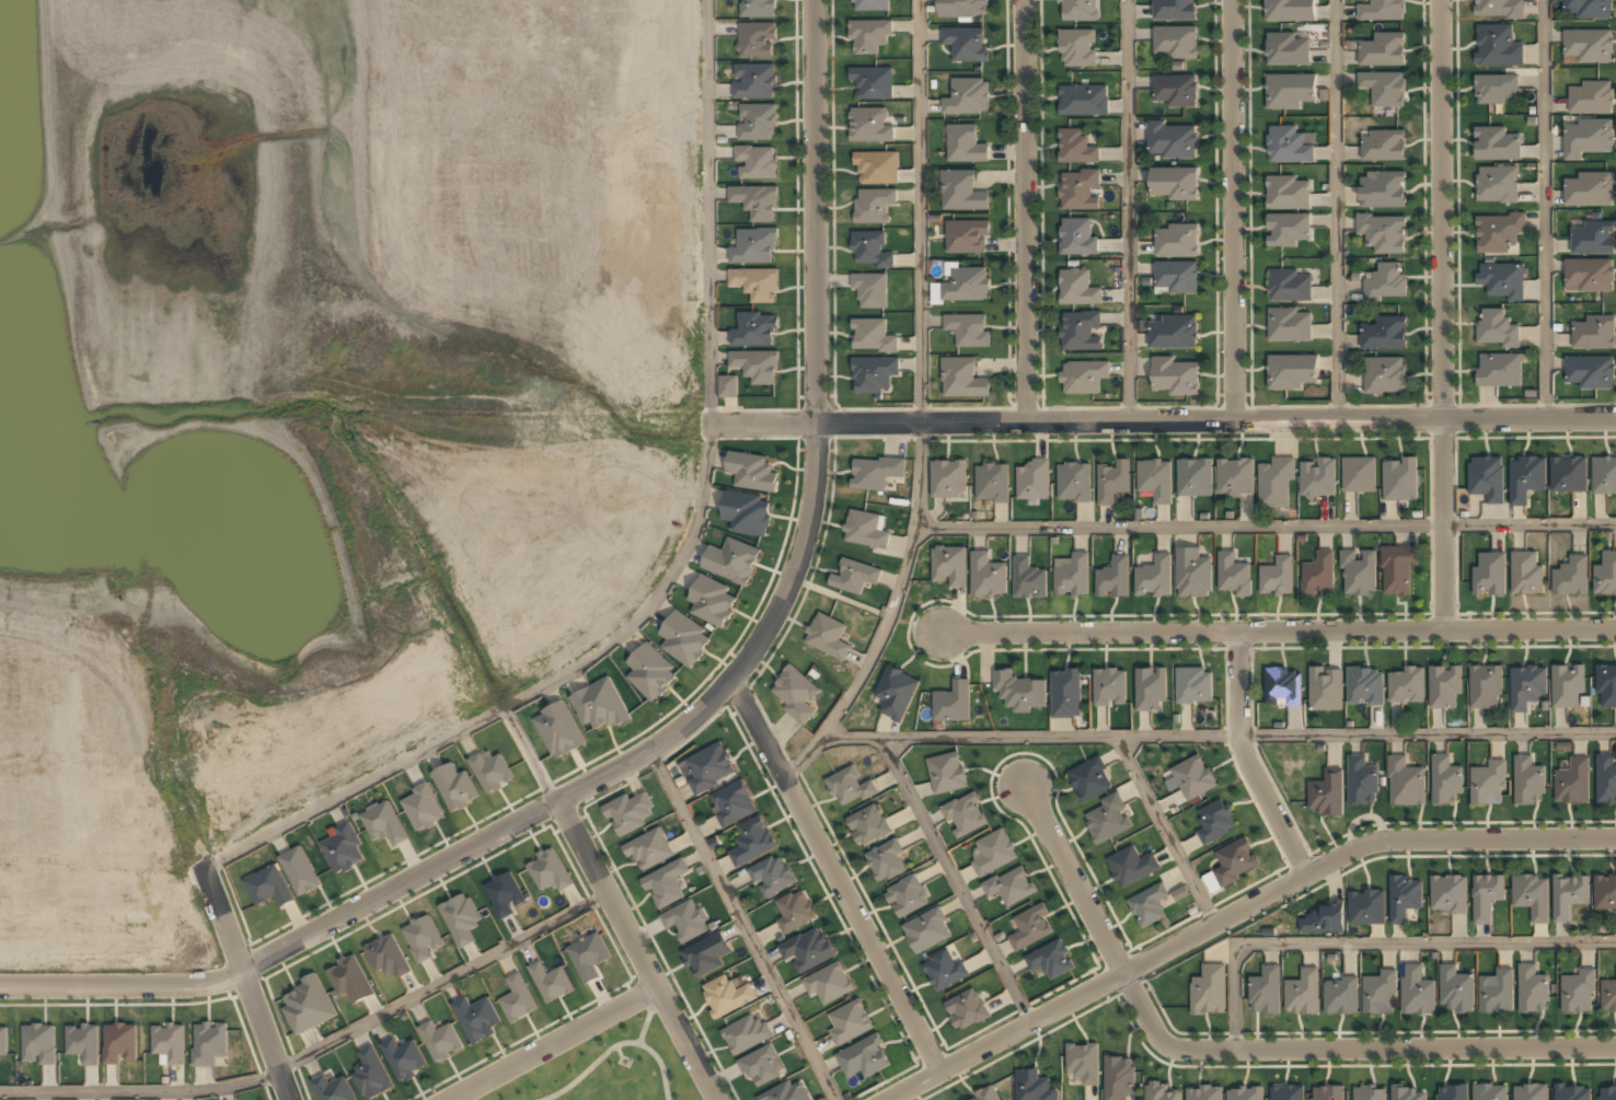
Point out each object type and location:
building: (872, 5)
building: (758, 8)
building: (961, 9)
building: (1174, 9)
building: (1499, 9)
building: (1586, 9)
building: (1077, 10)
building: (1290, 10)
building: (1381, 10)
building: (868, 36)
building: (755, 40)
building: (1175, 42)
building: (965, 44)
building: (1497, 46)
building: (1586, 46)
building: (1077, 49)
building: (1286, 49)
building: (1382, 50)
building: (753, 82)
building: (873, 83)
building: (1383, 88)
building: (1496, 89)
building: (1289, 90)
building: (1175, 91)
building: (967, 96)
building: (1589, 97)
building: (1082, 101)
building: (757, 121)
building: (869, 125)
building: (1586, 138)
building: (1171, 141)
building: (965, 143)
building: (1288, 144)
building: (1383, 144)
building: (1494, 144)
building: (1075, 149)
building: (755, 162)
building: (876, 169)
building: (1174, 184)
building: (1496, 185)
building: (1078, 189)
building: (1382, 189)
building: (1588, 189)
building: (961, 190)
building: (1288, 192)
building: (755, 202)
building: (872, 206)
road: (1545, 209)
road: (1025, 210)
road: (1128, 210)
road: (1233, 210)
road: (1336, 210)
building: (1286, 229)
building: (1383, 232)
building: (1497, 233)
building: (967, 236)
building: (1076, 238)
building: (1592, 239)
building: (1176, 241)
building: (753, 247)
building: (869, 250)
building: (1589, 275)
building: (1175, 278)
building: (1500, 280)
building: (1385, 282)
building: (755, 283)
building: (962, 286)
building: (1289, 287)
building: (1076, 288)
building: (870, 289)
road: (1441, 314)
building: (1289, 325)
building: (1496, 328)
building: (754, 329)
building: (968, 329)
building: (1080, 331)
building: (1592, 333)
building: (1171, 334)
building: (872, 335)
building: (1384, 335)
building: (757, 364)
building: (1498, 371)
building: (1290, 372)
building: (1589, 372)
building: (874, 374)
building: (1082, 377)
building: (1384, 377)
building: (961, 378)
building: (1174, 378)
building: (728, 386)
road: (921, 408)
road: (1157, 421)
building: (752, 471)
building: (875, 473)
building: (1358, 474)
building: (1604, 474)
building: (1235, 476)
building: (1566, 476)
building: (948, 477)
building: (1194, 477)
building: (1485, 478)
building: (1524, 478)
building: (1399, 479)
building: (1032, 480)
building: (1154, 480)
building: (1276, 482)
building: (1073, 483)
building: (1111, 483)
building: (1315, 484)
building: (995, 489)
building: (746, 513)
road: (1266, 525)
building: (866, 529)
building: (732, 560)
building: (949, 565)
building: (1397, 569)
building: (1359, 571)
road: (673, 572)
building: (1193, 572)
building: (1525, 572)
building: (1489, 574)
building: (988, 575)
building: (1317, 575)
building: (1605, 575)
building: (1072, 576)
building: (1571, 576)
building: (854, 577)
building: (1277, 577)
building: (1153, 578)
building: (1028, 579)
building: (1112, 579)
building: (1232, 581)
building: (712, 602)
road: (1278, 629)
building: (828, 636)
building: (684, 640)
building: (650, 673)
building: (1003, 681)
building: (1606, 684)
building: (1193, 685)
building: (1361, 685)
building: (1407, 685)
building: (1110, 686)
building: (1281, 686)
building: (1525, 686)
building: (1485, 687)
building: (1151, 688)
building: (1325, 688)
building: (1567, 688)
building: (896, 693)
building: (1066, 693)
building: (795, 694)
building: (1441, 697)
building: (951, 704)
building: (599, 706)
road: (691, 720)
building: (558, 731)
road: (1220, 737)
road: (527, 755)
road: (1245, 759)
building: (709, 767)
building: (490, 772)
building: (946, 773)
building: (1192, 777)
building: (1090, 779)
building: (1445, 779)
building: (1606, 779)
building: (1527, 780)
building: (1360, 781)
building: (1572, 781)
building: (1406, 783)
building: (1487, 783)
building: (454, 788)
building: (849, 788)
building: (1326, 792)
building: (732, 803)
building: (423, 808)
building: (630, 813)
building: (965, 814)
building: (1107, 820)
building: (1214, 821)
building: (383, 823)
building: (868, 825)
road: (1164, 831)
building: (752, 842)
building: (343, 847)
building: (649, 849)
building: (993, 853)
building: (886, 861)
building: (1231, 864)
building: (1131, 866)
building: (299, 870)
building: (547, 871)
road: (834, 875)
building: (772, 876)
road: (956, 881)
building: (666, 884)
building: (268, 887)
building: (1009, 887)
building: (503, 895)
building: (907, 895)
building: (1447, 895)
building: (1604, 895)
building: (1531, 896)
building: (1568, 896)
building: (1486, 898)
building: (1147, 905)
building: (1365, 908)
building: (794, 912)
road: (1235, 913)
building: (1397, 916)
building: (461, 919)
building: (684, 922)
building: (1320, 922)
road: (741, 924)
building: (1030, 926)
building: (927, 929)
building: (423, 938)
road: (1375, 942)
building: (807, 949)
road: (636, 950)
building: (705, 956)
building: (386, 957)
building: (588, 957)
building: (1050, 959)
building: (944, 970)
road: (244, 980)
building: (348, 981)
building: (550, 983)
building: (829, 983)
building: (1455, 989)
building: (1532, 991)
building: (1208, 992)
building: (1263, 992)
building: (1416, 992)
building: (1496, 993)
building: (1577, 993)
building: (1301, 994)
building: (1378, 995)
building: (726, 996)
building: (1608, 997)
building: (1339, 998)
building: (517, 999)
building: (309, 1005)
building: (966, 1009)
building: (476, 1019)
building: (849, 1021)
building: (746, 1033)
building: (3, 1041)
building: (440, 1041)
building: (169, 1042)
building: (38, 1043)
building: (83, 1043)
building: (119, 1043)
building: (208, 1043)
road: (551, 1044)
road: (1244, 1047)
road: (319, 1049)
building: (863, 1057)
building: (404, 1058)
building: (1083, 1063)
park: (607, 1065)
building: (761, 1066)
building: (371, 1074)
building: (1118, 1078)
building: (1032, 1086)
building: (334, 1089)
building: (786, 1091)
building: (1158, 1091)
building: (1450, 1092)
building: (1489, 1092)
building: (1203, 1093)
building: (1243, 1093)
building: (1286, 1093)
building: (1325, 1093)
building: (1367, 1093)
building: (1530, 1093)
building: (1571, 1093)
building: (1606, 1093)
building: (1405, 1095)
building: (985, 1096)

